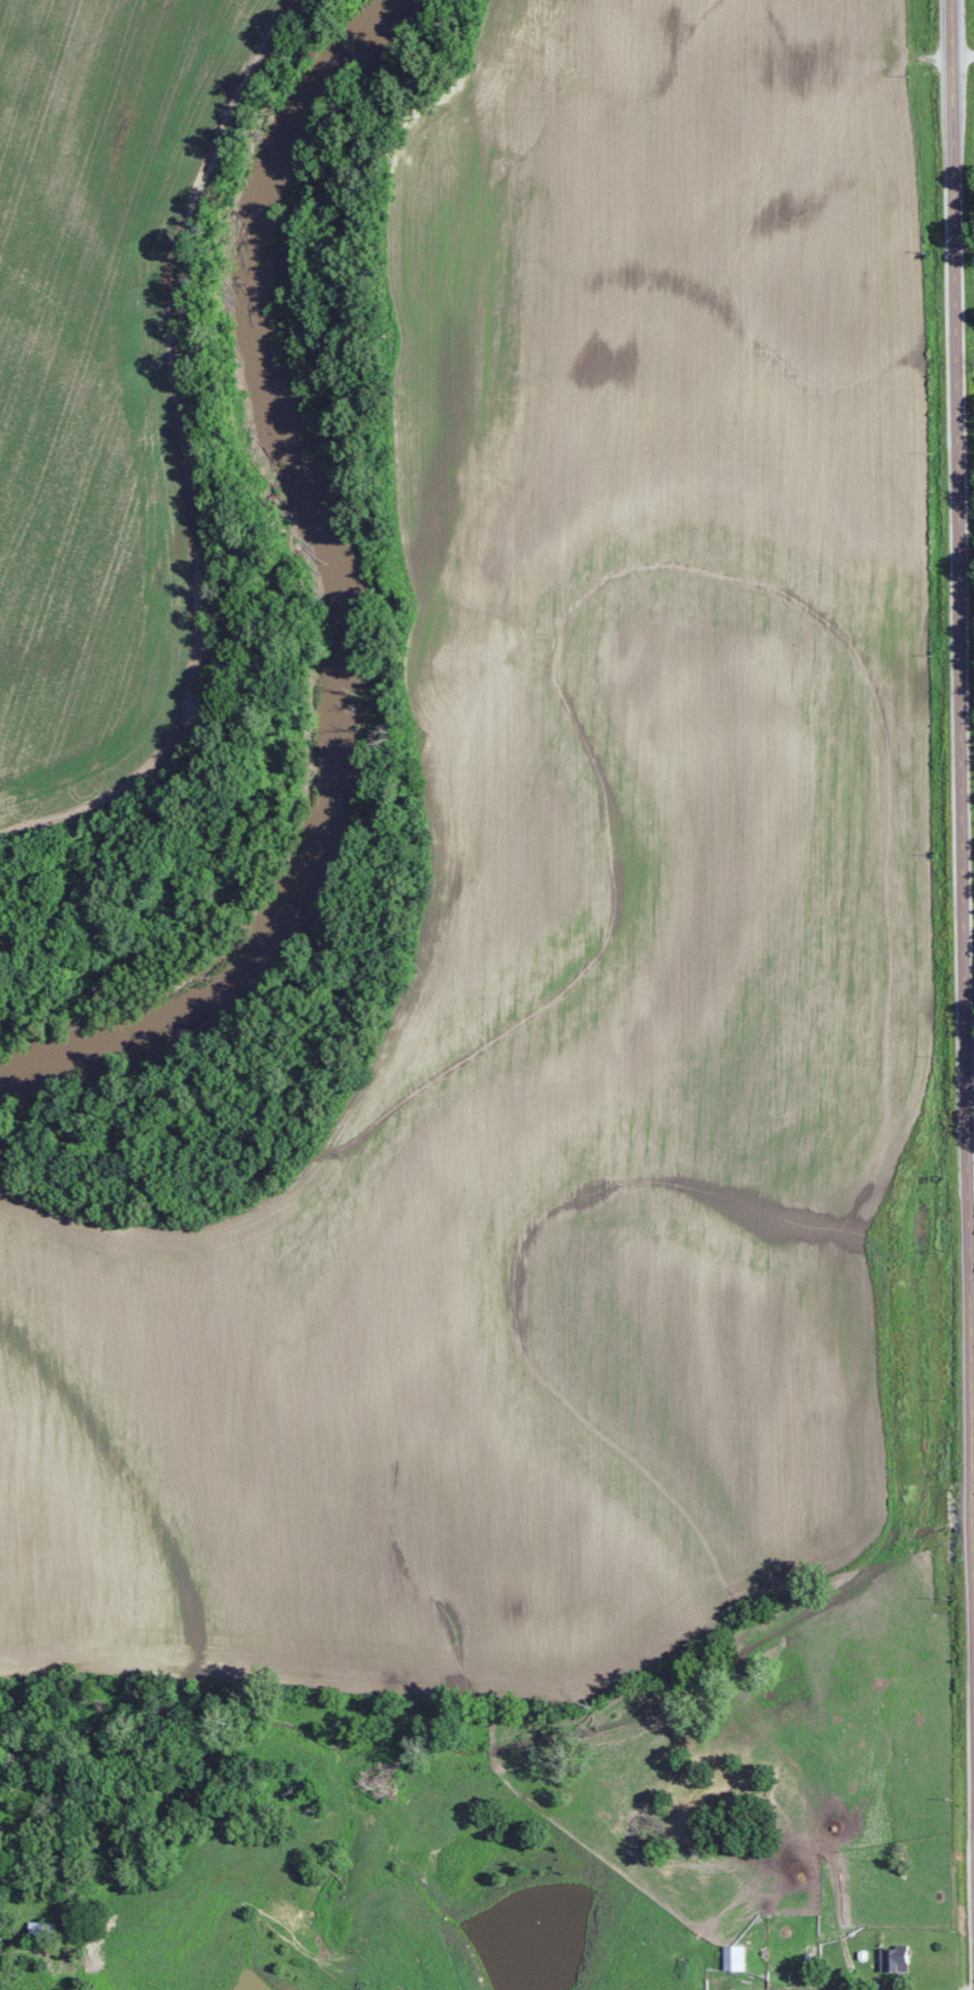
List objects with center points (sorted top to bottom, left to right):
crop: (93, 377)
road: (962, 736)
crop: (565, 935)
building: (41, 1933)
building: (733, 1958)
building: (893, 1959)

